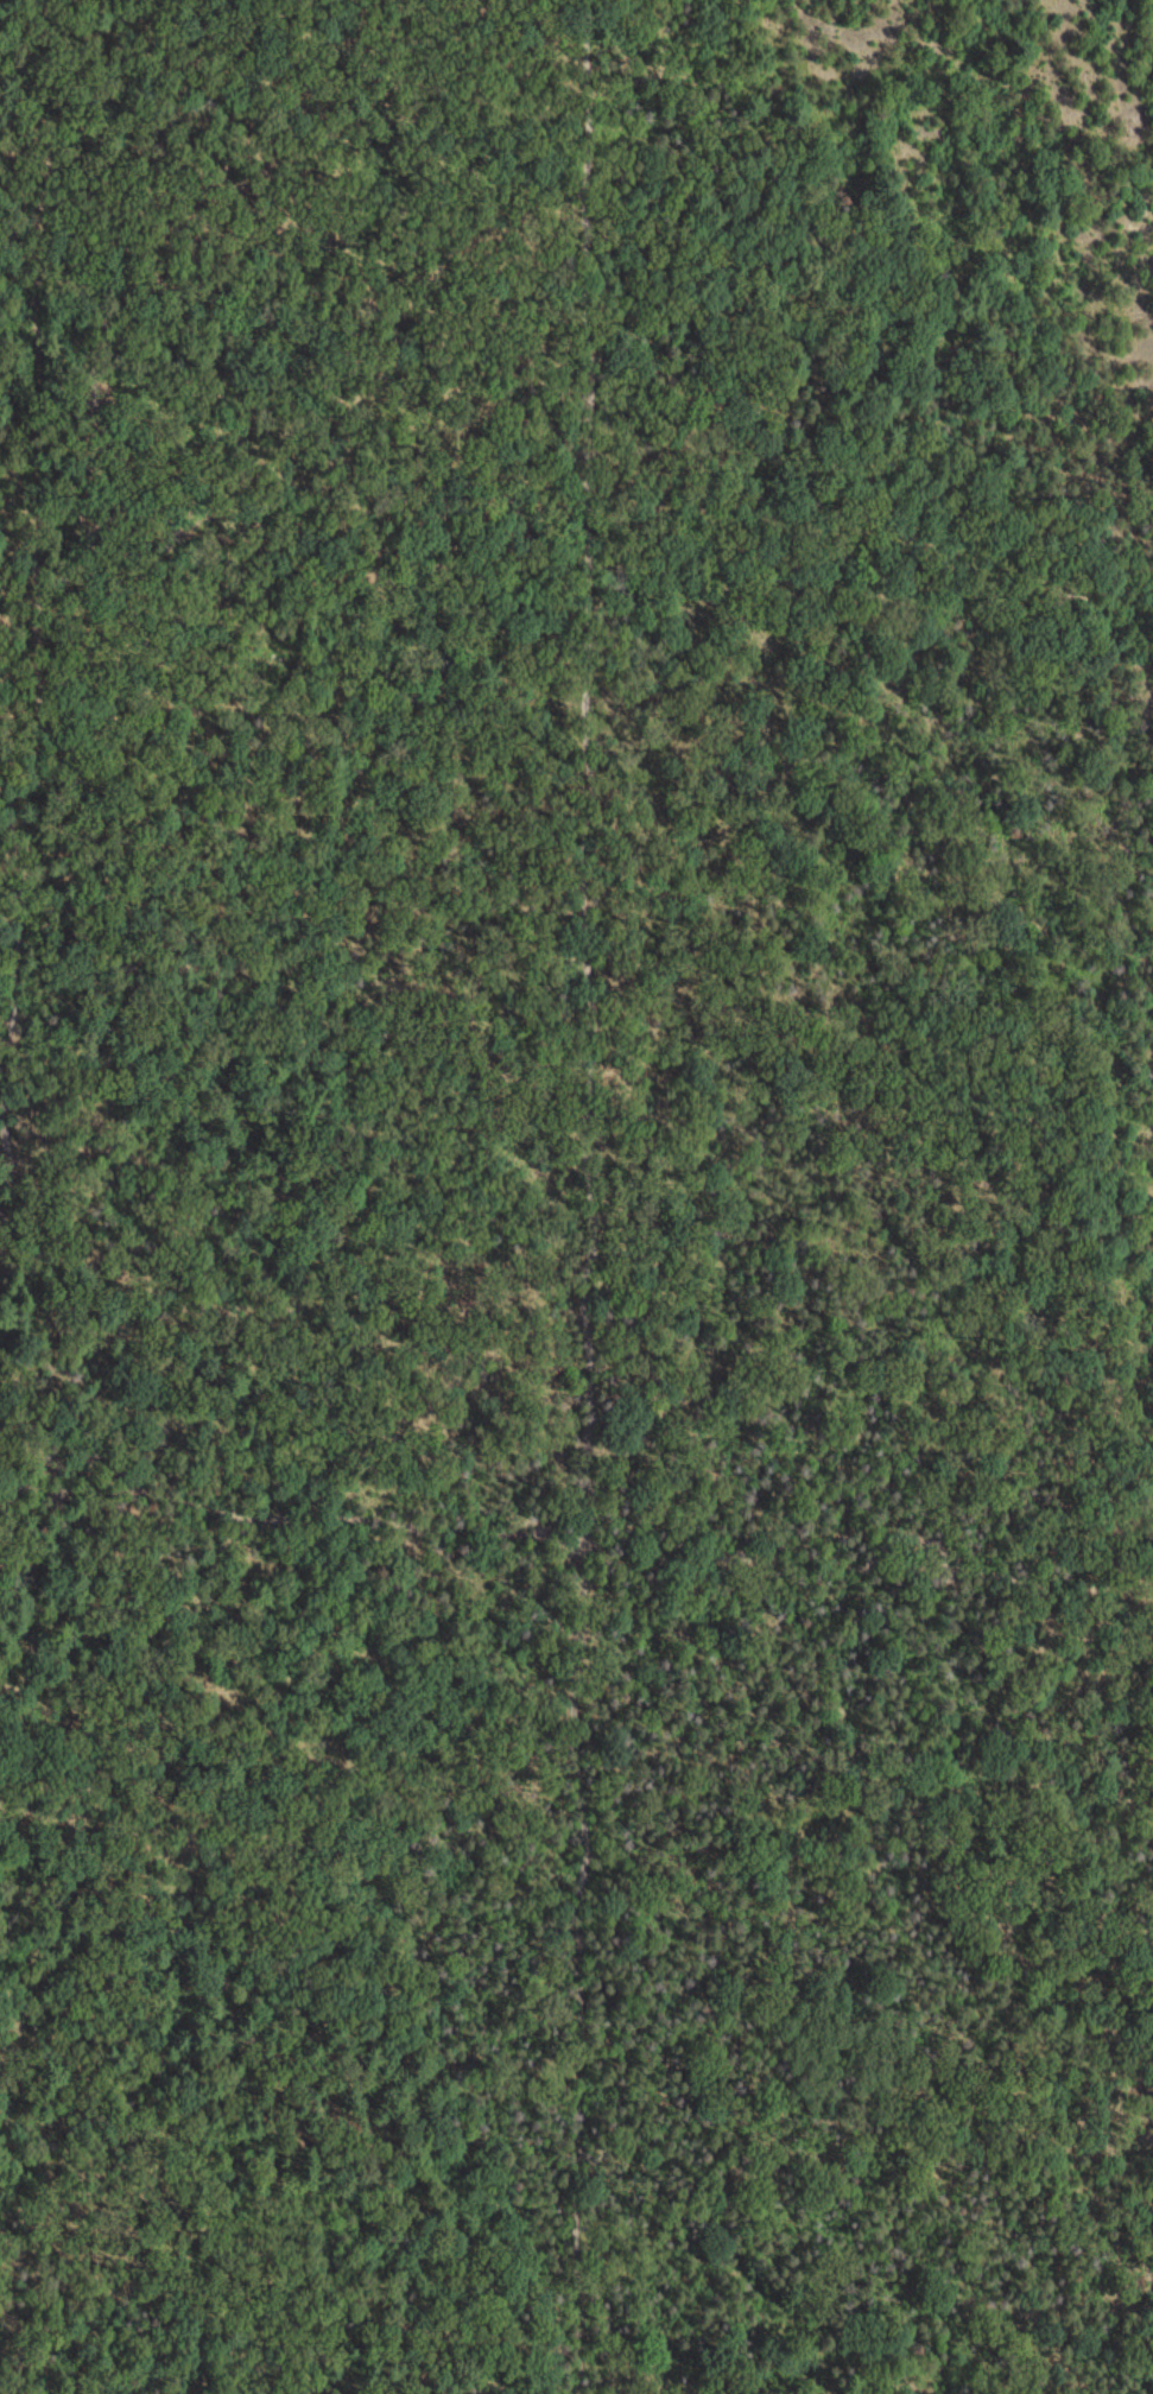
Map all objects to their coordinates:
road: (17, 38)
road: (39, 1197)
road: (574, 1197)
road: (576, 1506)
road: (571, 2314)

